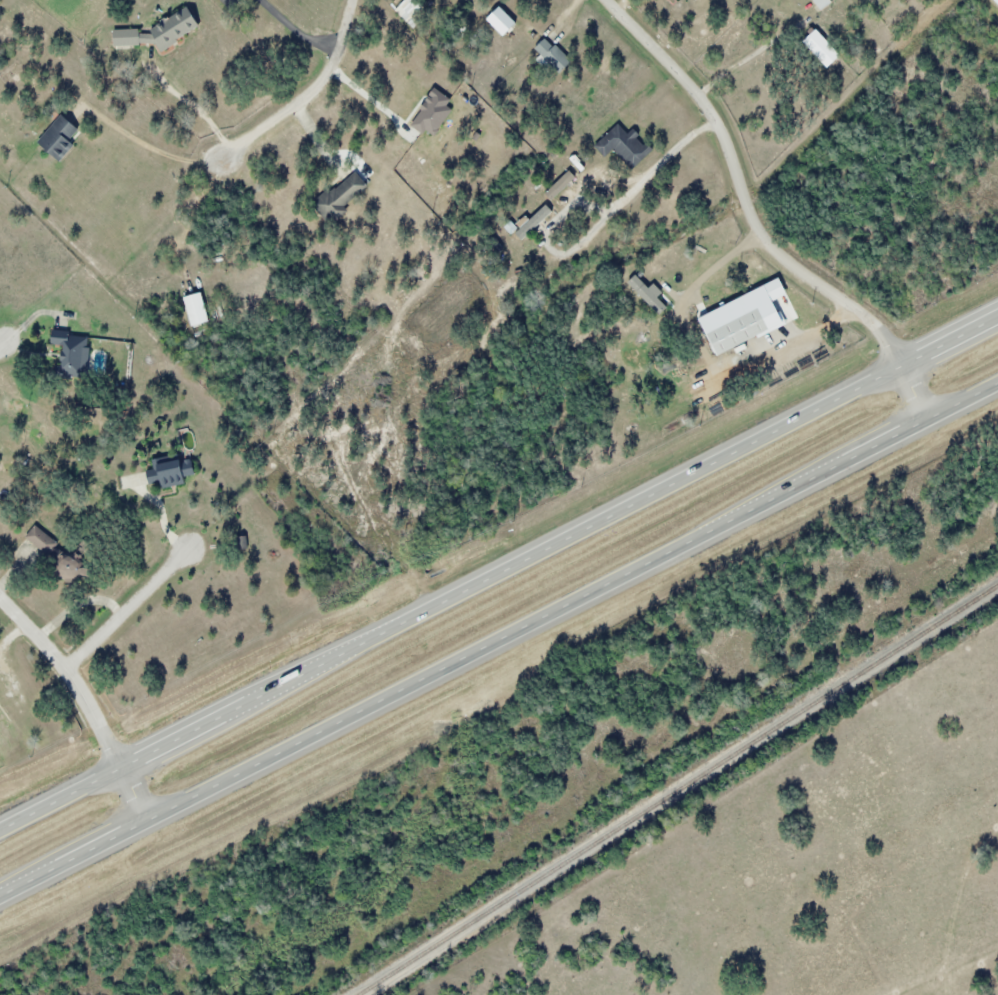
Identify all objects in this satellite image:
building: (693, 0)
building: (818, 3)
building: (994, 3)
building: (412, 11)
building: (816, 47)
building: (548, 54)
road: (309, 93)
building: (61, 137)
building: (625, 145)
building: (342, 196)
building: (534, 222)
road: (752, 223)
building: (649, 293)
building: (198, 309)
building: (742, 330)
road: (1, 345)
building: (73, 353)
building: (172, 471)
building: (42, 540)
building: (74, 570)
road: (499, 575)
road: (127, 606)
road: (498, 639)
road: (84, 699)
railway: (679, 791)

